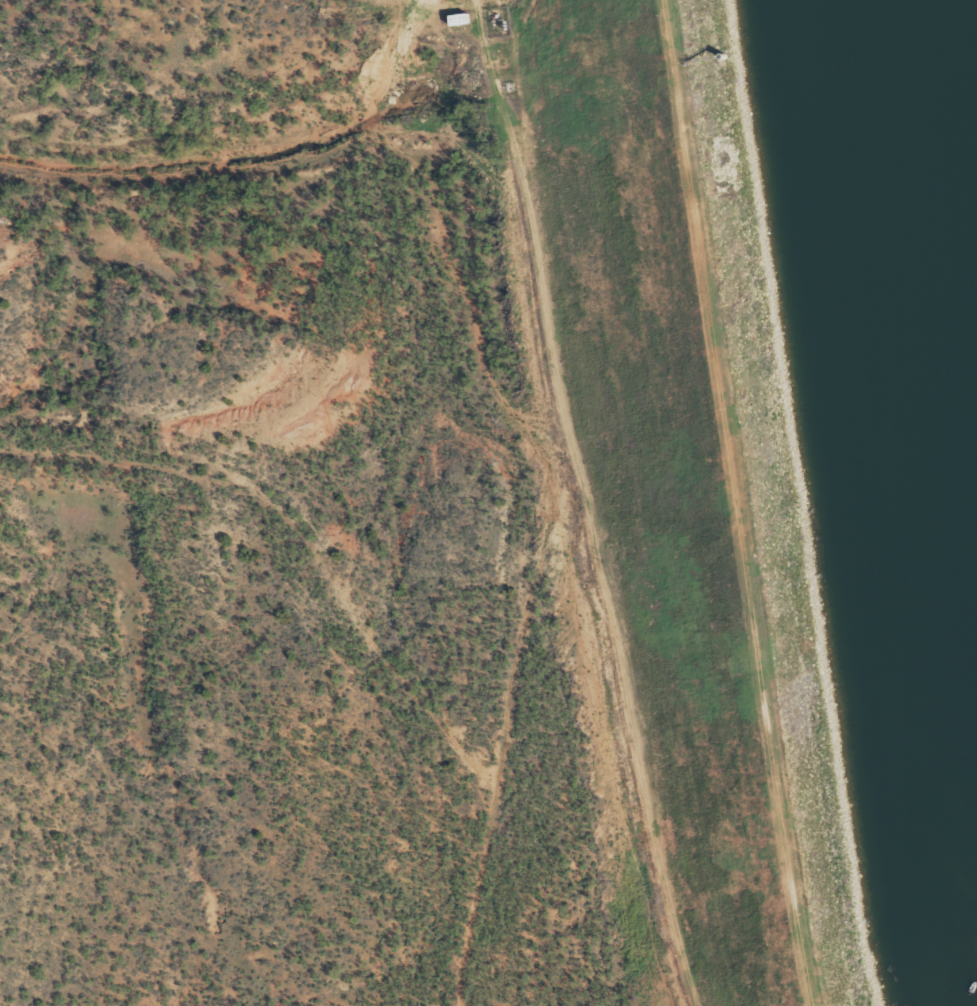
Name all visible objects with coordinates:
road: (539, 501)

